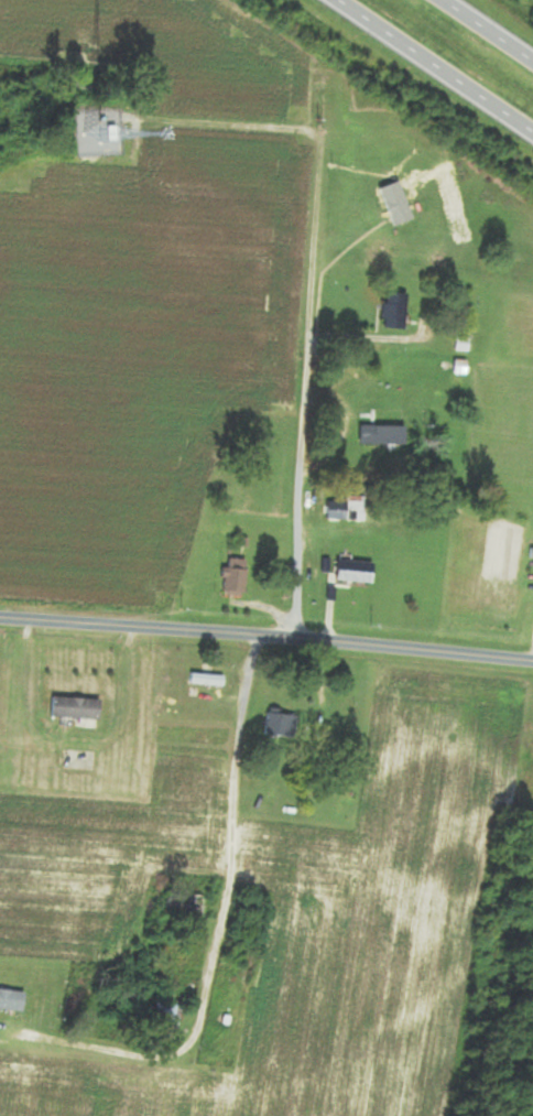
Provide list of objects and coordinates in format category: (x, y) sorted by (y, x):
road: (487, 30)
road: (434, 67)
building: (395, 312)
building: (463, 342)
building: (460, 371)
road: (304, 388)
building: (384, 435)
building: (356, 572)
building: (236, 577)
road: (266, 636)
building: (207, 680)
building: (76, 708)
building: (282, 726)
building: (184, 902)
road: (224, 925)
building: (12, 1000)
building: (171, 1008)

